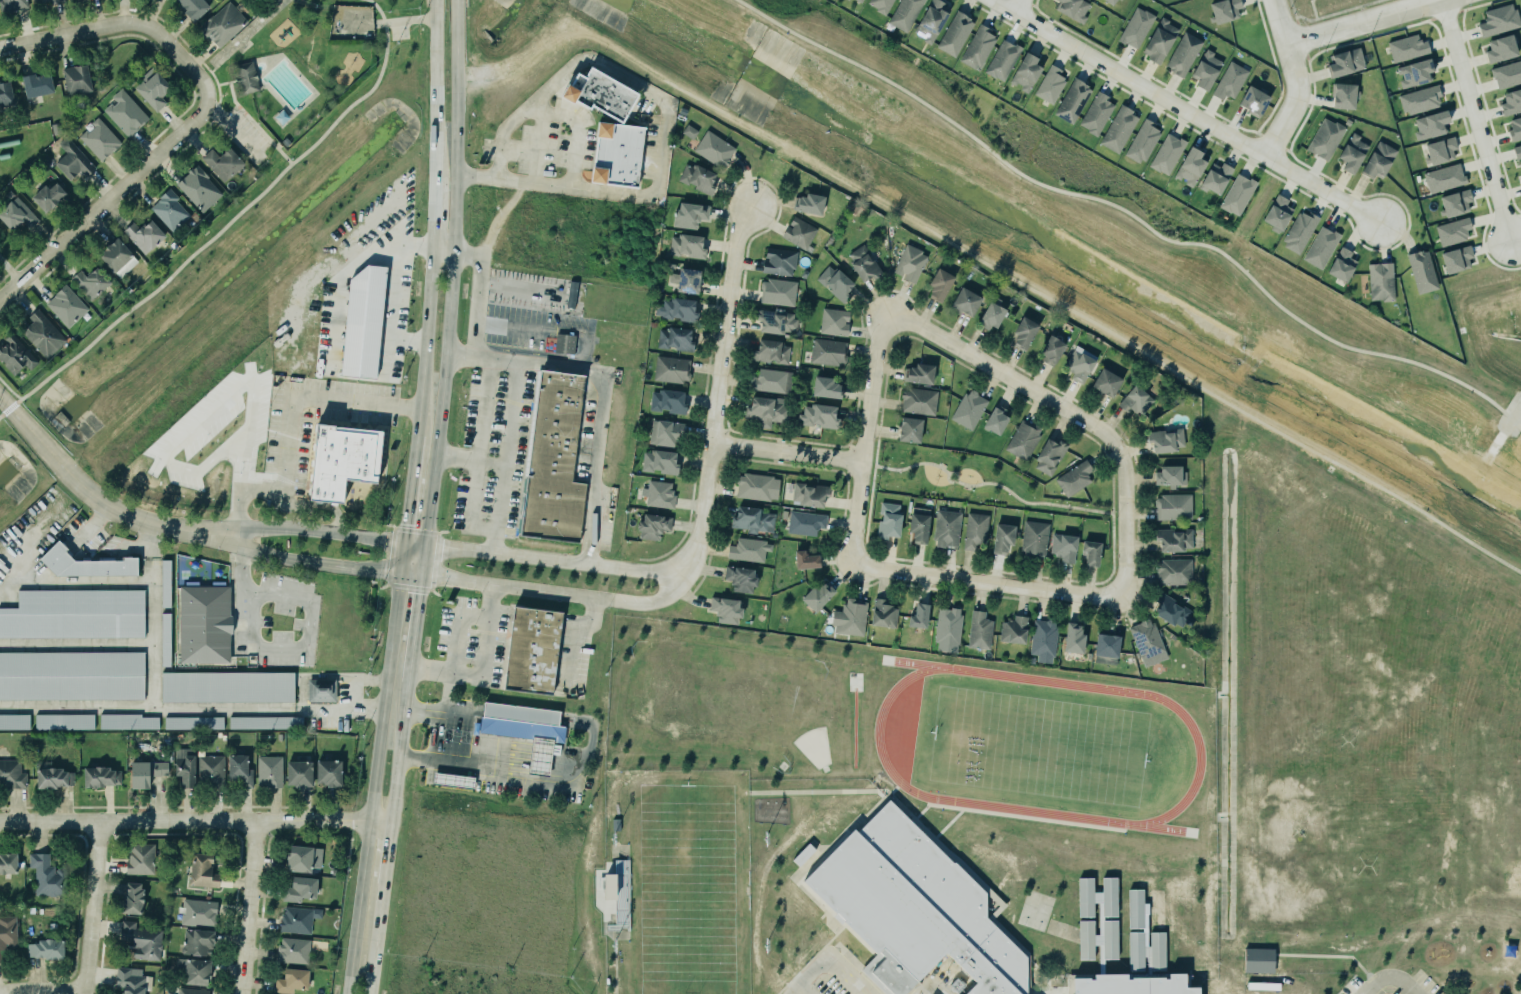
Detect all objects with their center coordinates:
building: (69, 0)
building: (858, 1)
building: (1109, 1)
building: (45, 2)
building: (11, 4)
building: (880, 5)
road: (1019, 6)
building: (193, 7)
building: (1074, 9)
building: (1222, 9)
building: (903, 13)
road: (405, 19)
building: (932, 20)
road: (1358, 20)
building: (1499, 20)
building: (223, 23)
road: (93, 26)
building: (1134, 26)
building: (953, 32)
road: (246, 35)
road: (548, 39)
building: (1160, 40)
building: (978, 47)
building: (1407, 47)
building: (1500, 49)
building: (1183, 54)
building: (1002, 60)
building: (1346, 62)
road: (482, 65)
building: (1206, 69)
road: (209, 71)
building: (1024, 71)
building: (1414, 71)
building: (1507, 74)
park: (280, 76)
building: (246, 77)
road: (483, 77)
building: (76, 79)
building: (1228, 80)
road: (1297, 80)
road: (225, 81)
building: (35, 83)
building: (1048, 83)
road: (436, 91)
building: (5, 92)
building: (154, 92)
building: (598, 92)
road: (217, 93)
building: (1344, 96)
building: (1071, 99)
building: (1252, 99)
building: (1420, 100)
building: (1511, 102)
road: (214, 111)
road: (1187, 111)
building: (1095, 112)
building: (125, 113)
road: (1475, 119)
road: (662, 120)
building: (1429, 123)
road: (254, 124)
road: (203, 127)
building: (1117, 128)
building: (1515, 128)
road: (233, 131)
building: (688, 131)
road: (537, 134)
parking lot: (242, 135)
road: (575, 135)
building: (1325, 138)
building: (100, 139)
building: (1142, 142)
building: (713, 149)
building: (1441, 150)
building: (1517, 151)
building: (615, 153)
building: (1166, 153)
building: (1352, 153)
building: (71, 159)
building: (1379, 160)
building: (223, 163)
building: (1190, 166)
building: (1442, 175)
building: (1214, 176)
building: (697, 178)
road: (126, 180)
building: (198, 188)
building: (1236, 193)
building: (46, 195)
building: (1456, 202)
building: (809, 203)
building: (170, 210)
building: (1276, 212)
building: (16, 214)
building: (688, 214)
road: (1132, 216)
road: (435, 217)
road: (225, 224)
building: (1451, 230)
building: (799, 232)
building: (1299, 232)
building: (144, 235)
building: (686, 245)
building: (1320, 246)
road: (444, 252)
building: (118, 257)
building: (1457, 259)
building: (778, 260)
building: (908, 262)
building: (1340, 263)
building: (863, 264)
road: (1500, 267)
road: (9, 270)
building: (1419, 270)
road: (453, 273)
building: (684, 278)
building: (1379, 280)
building: (90, 282)
building: (833, 282)
building: (938, 283)
road: (519, 288)
building: (778, 292)
road: (476, 293)
building: (571, 294)
road: (391, 297)
building: (963, 301)
road: (1061, 305)
building: (66, 306)
building: (677, 309)
building: (992, 315)
building: (360, 316)
building: (776, 321)
building: (834, 321)
road: (513, 326)
park: (1461, 330)
building: (1024, 333)
building: (42, 334)
building: (673, 338)
building: (565, 343)
road: (429, 344)
building: (1050, 350)
building: (770, 351)
building: (828, 351)
building: (15, 355)
road: (524, 364)
building: (1078, 364)
building: (672, 369)
road: (719, 372)
building: (919, 374)
road: (1006, 376)
building: (770, 380)
building: (1107, 381)
building: (824, 386)
building: (1134, 400)
building: (667, 401)
building: (918, 401)
building: (766, 409)
building: (969, 409)
building: (818, 414)
road: (288, 417)
building: (996, 419)
road: (199, 422)
building: (910, 429)
building: (665, 433)
road: (864, 438)
building: (1164, 438)
building: (1023, 439)
road: (477, 443)
road: (875, 449)
road: (786, 452)
road: (241, 453)
building: (1049, 456)
road: (503, 458)
building: (339, 459)
building: (553, 460)
building: (658, 460)
road: (470, 461)
road: (912, 463)
road: (590, 469)
road: (954, 473)
building: (1170, 475)
building: (1072, 477)
park: (965, 479)
road: (947, 480)
road: (238, 485)
building: (755, 485)
road: (1111, 485)
road: (86, 490)
road: (412, 490)
building: (658, 493)
building: (810, 494)
road: (1029, 502)
building: (1172, 505)
road: (867, 515)
road: (1124, 518)
building: (887, 519)
building: (753, 520)
traffic signals: (409, 522)
building: (806, 522)
building: (651, 525)
road: (89, 526)
building: (917, 527)
building: (944, 527)
road: (481, 529)
building: (975, 530)
road: (32, 531)
road: (315, 533)
building: (1003, 538)
building: (1172, 538)
building: (1034, 539)
building: (1064, 547)
traffic signals: (441, 548)
building: (747, 548)
building: (1091, 552)
road: (1111, 553)
road: (405, 559)
building: (806, 560)
road: (301, 562)
road: (425, 562)
road: (568, 562)
building: (83, 563)
traffic signals: (381, 572)
building: (1173, 572)
road: (413, 576)
building: (739, 577)
building: (163, 582)
road: (75, 583)
road: (987, 583)
road: (662, 586)
traffic signals: (421, 592)
building: (816, 595)
road: (580, 596)
building: (724, 609)
building: (1174, 612)
building: (73, 613)
building: (883, 614)
road: (151, 616)
building: (848, 616)
building: (919, 616)
road: (309, 623)
building: (202, 624)
building: (948, 625)
road: (455, 629)
building: (1012, 629)
road: (416, 630)
building: (978, 630)
building: (1042, 637)
building: (163, 638)
road: (570, 638)
building: (1072, 638)
building: (1147, 642)
road: (75, 644)
building: (1107, 645)
building: (531, 650)
building: (1105, 660)
road: (480, 665)
building: (69, 674)
road: (358, 681)
building: (224, 686)
building: (318, 689)
road: (192, 709)
road: (445, 711)
road: (521, 712)
building: (59, 720)
building: (125, 720)
building: (13, 721)
building: (190, 721)
building: (262, 721)
building: (526, 730)
road: (435, 738)
road: (482, 745)
road: (541, 747)
road: (401, 750)
road: (570, 750)
road: (499, 752)
road: (539, 757)
road: (567, 761)
road: (497, 762)
building: (185, 767)
road: (538, 767)
building: (237, 770)
road: (562, 770)
building: (211, 771)
building: (269, 771)
building: (146, 772)
building: (298, 772)
building: (328, 772)
building: (10, 774)
road: (533, 775)
building: (102, 777)
building: (55, 778)
building: (453, 780)
road: (376, 784)
road: (196, 819)
road: (389, 851)
building: (140, 858)
building: (298, 858)
building: (8, 863)
building: (200, 871)
building: (46, 875)
stadium: (675, 881)
park: (684, 888)
building: (298, 889)
building: (132, 898)
road: (89, 906)
road: (247, 906)
building: (916, 908)
building: (1146, 908)
building: (197, 911)
building: (295, 919)
building: (1098, 919)
building: (1184, 920)
building: (7, 932)
building: (140, 939)
road: (378, 939)
building: (196, 941)
building: (45, 948)
building: (292, 949)
building: (1146, 950)
road: (826, 958)
building: (1258, 960)
building: (192, 970)
road: (1385, 978)
building: (130, 980)
building: (290, 980)
road: (932, 984)
building: (1130, 985)
road: (801, 989)
road: (40, 990)
building: (190, 991)

